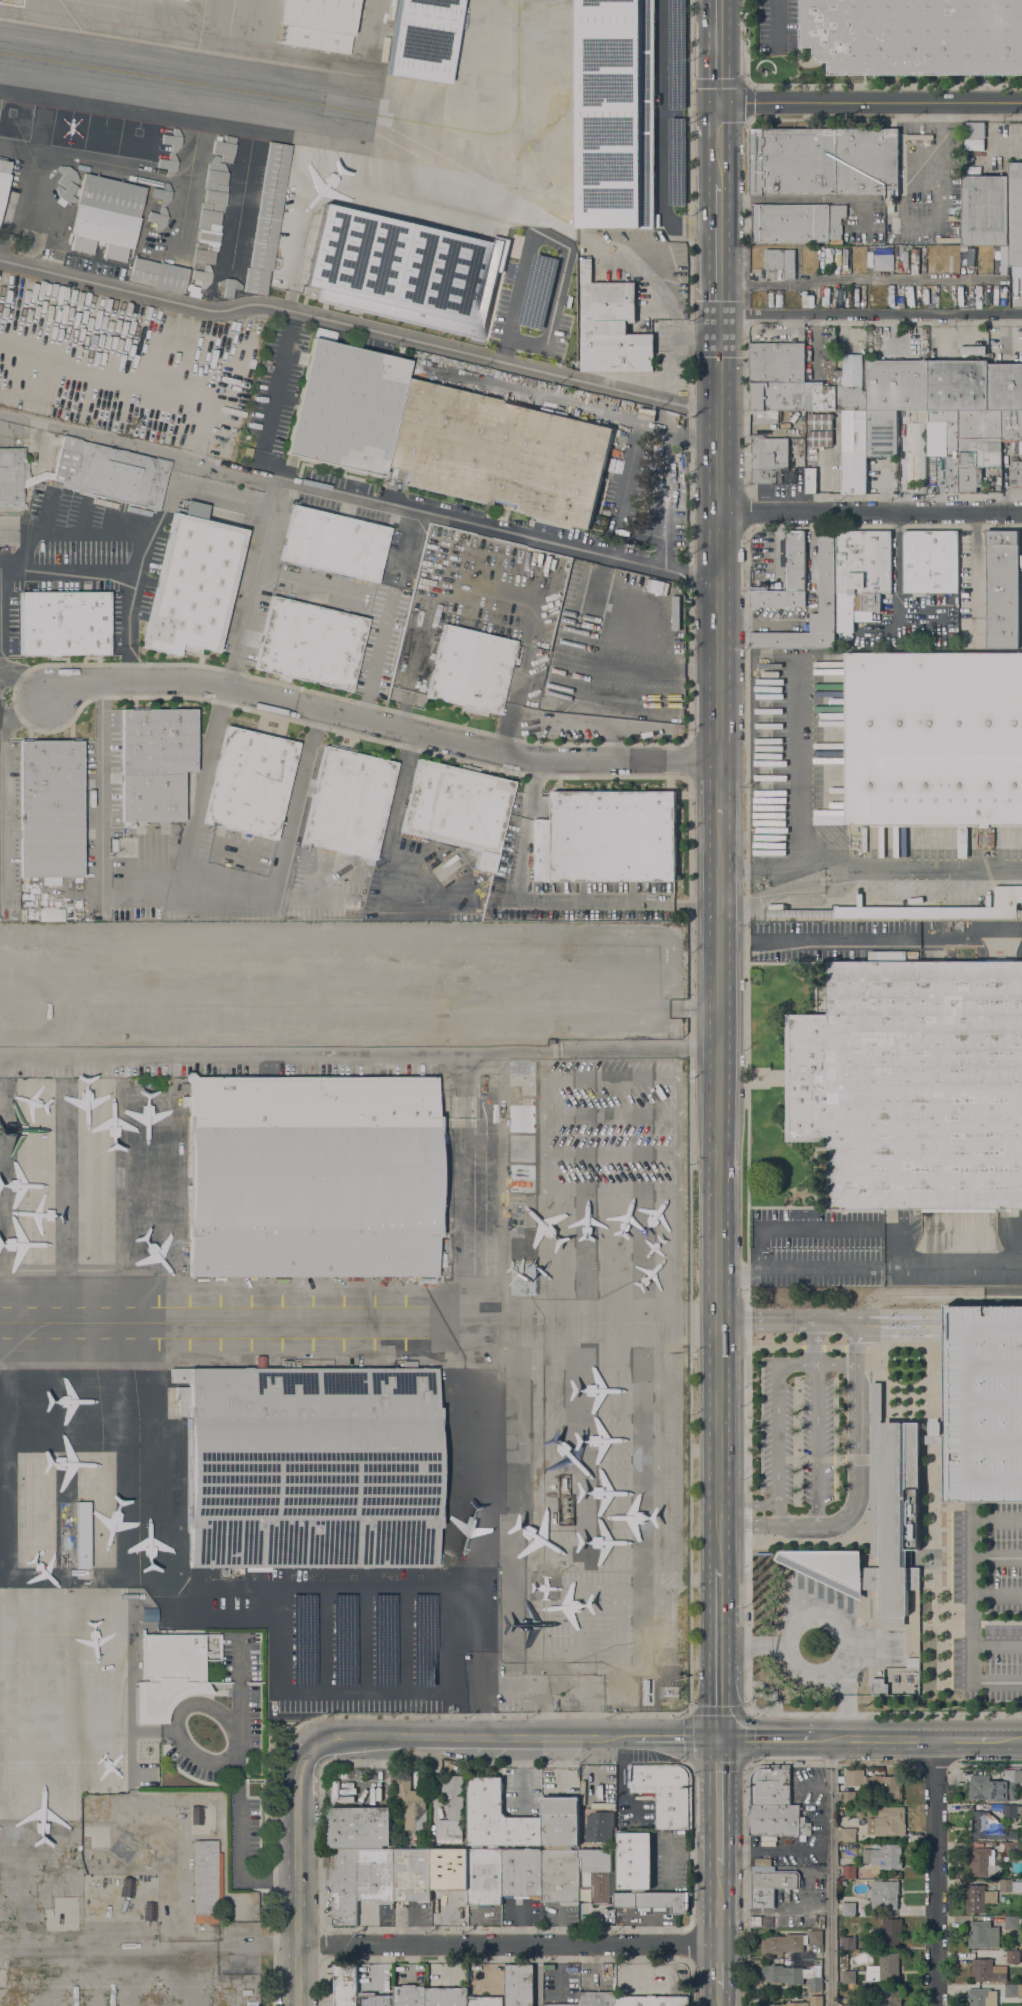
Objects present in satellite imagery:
airport hangar: (183, 0)
building: (183, 0)
airport hangar: (317, 24)
building: (317, 24)
road: (779, 26)
parking lot: (778, 27)
building: (915, 36)
airport hangar: (422, 39)
building: (422, 39)
road: (745, 42)
road: (719, 51)
building: (615, 52)
airport taxiway: (187, 82)
road: (747, 102)
traffic signals: (719, 103)
road: (870, 103)
building: (974, 130)
helipad: (65, 131)
road: (664, 136)
helipad: (100, 137)
helipad: (135, 142)
road: (719, 143)
building: (224, 149)
road: (939, 154)
building: (824, 161)
airport apron: (353, 162)
airport: (367, 163)
airport hangar: (616, 166)
building: (616, 166)
building: (3, 179)
airport hangar: (269, 206)
building: (269, 206)
building: (985, 210)
road: (746, 213)
building: (106, 217)
building: (209, 217)
building: (1015, 217)
building: (796, 222)
road: (719, 249)
building: (775, 261)
building: (884, 263)
airport hangar: (402, 273)
building: (402, 273)
building: (158, 275)
building: (202, 276)
road: (857, 278)
airport hangar: (256, 281)
building: (256, 281)
building: (227, 288)
road: (516, 304)
road: (870, 314)
road: (745, 317)
road: (359, 327)
building: (610, 327)
building: (777, 362)
building: (850, 384)
building: (897, 385)
building: (958, 385)
building: (1005, 387)
building: (778, 396)
building: (820, 396)
building: (346, 409)
road: (746, 411)
building: (767, 417)
building: (820, 421)
building: (1011, 425)
building: (882, 433)
building: (819, 438)
building: (945, 442)
building: (977, 446)
building: (854, 451)
building: (914, 452)
building: (247, 453)
building: (499, 453)
building: (768, 460)
building: (110, 472)
building: (1016, 473)
building: (12, 478)
building: (37, 478)
building: (810, 480)
road: (180, 490)
road: (359, 501)
road: (747, 512)
road: (870, 513)
road: (266, 526)
road: (719, 538)
building: (334, 543)
building: (795, 561)
building: (930, 562)
road: (124, 566)
road: (254, 574)
building: (861, 574)
building: (826, 575)
road: (975, 576)
building: (193, 583)
parking lot: (644, 583)
parking lot: (575, 585)
building: (1002, 589)
building: (778, 598)
building: (63, 623)
building: (310, 644)
parking lot: (674, 645)
road: (377, 657)
parking lot: (572, 659)
building: (470, 670)
road: (45, 697)
road: (690, 699)
parking lot: (600, 709)
road: (380, 725)
building: (933, 739)
building: (155, 762)
building: (250, 783)
road: (532, 790)
road: (719, 790)
road: (102, 797)
building: (348, 802)
road: (801, 803)
building: (51, 809)
building: (457, 809)
building: (606, 837)
building: (961, 841)
building: (123, 848)
road: (911, 867)
road: (227, 892)
road: (574, 904)
building: (919, 909)
building: (50, 915)
road: (870, 938)
building: (553, 1041)
road: (359, 1054)
airport hangar: (523, 1076)
building: (523, 1076)
building: (913, 1083)
airport hangar: (492, 1091)
building: (492, 1091)
airport hangar: (522, 1116)
building: (522, 1116)
airport hangar: (495, 1119)
building: (495, 1119)
road: (747, 1120)
airport hangar: (494, 1147)
building: (494, 1147)
airport hangar: (521, 1148)
building: (521, 1148)
airport hangar: (496, 1174)
building: (496, 1174)
airport hangar: (312, 1177)
building: (312, 1177)
airport hangar: (521, 1178)
building: (521, 1178)
road: (719, 1193)
airport hangar: (522, 1212)
building: (522, 1212)
airport hangar: (523, 1246)
building: (523, 1246)
road: (952, 1265)
road: (800, 1268)
airport hangar: (522, 1279)
building: (522, 1279)
road: (689, 1287)
road: (936, 1295)
road: (756, 1316)
road: (874, 1316)
road: (858, 1322)
road: (988, 1323)
airport taxiway: (328, 1324)
road: (787, 1327)
road: (906, 1332)
road: (813, 1340)
road: (856, 1346)
road: (811, 1347)
road: (798, 1364)
road: (835, 1364)
road: (856, 1373)
building: (982, 1403)
parking garage: (982, 1403)
road: (967, 1422)
parking lot: (796, 1434)
building: (932, 1439)
road: (922, 1440)
road: (797, 1442)
airport: (313, 1463)
road: (855, 1465)
airport hangar: (310, 1466)
building: (310, 1466)
road: (995, 1480)
road: (896, 1489)
road: (874, 1498)
road: (748, 1503)
road: (934, 1506)
road: (885, 1507)
road: (979, 1520)
building: (879, 1523)
road: (757, 1524)
road: (805, 1524)
building: (82, 1535)
road: (997, 1557)
road: (412, 1585)
road: (935, 1600)
parking lot: (987, 1603)
road: (230, 1616)
road: (983, 1621)
road: (796, 1622)
road: (275, 1631)
road: (972, 1642)
road: (752, 1644)
road: (719, 1653)
building: (912, 1662)
building: (168, 1674)
building: (879, 1687)
road: (355, 1692)
road: (689, 1711)
road: (885, 1711)
road: (176, 1725)
road: (471, 1736)
road: (677, 1737)
road: (768, 1738)
road: (875, 1738)
road: (963, 1739)
road: (1007, 1740)
road: (559, 1764)
road: (593, 1766)
building: (854, 1777)
road: (719, 1783)
road: (240, 1785)
building: (884, 1786)
building: (995, 1786)
building: (663, 1791)
building: (848, 1797)
building: (411, 1800)
building: (773, 1803)
building: (452, 1811)
building: (1012, 1811)
building: (497, 1817)
building: (560, 1821)
building: (887, 1821)
building: (599, 1826)
building: (358, 1827)
building: (990, 1827)
building: (848, 1834)
building: (875, 1844)
road: (719, 1846)
building: (1013, 1847)
building: (883, 1857)
building: (633, 1859)
building: (762, 1861)
building: (984, 1863)
building: (450, 1868)
building: (848, 1871)
building: (522, 1872)
road: (829, 1872)
road: (935, 1872)
building: (412, 1874)
building: (598, 1874)
road: (296, 1875)
building: (375, 1875)
building: (484, 1876)
building: (560, 1876)
building: (206, 1882)
building: (770, 1884)
building: (1010, 1885)
building: (344, 1887)
building: (884, 1894)
building: (978, 1898)
building: (653, 1900)
road: (718, 1904)
building: (849, 1908)
building: (761, 1921)
building: (1010, 1922)
building: (1019, 1922)
building: (891, 1926)
building: (983, 1935)
building: (815, 1937)
building: (782, 1943)
road: (507, 1944)
building: (1012, 1957)
road: (718, 1966)
building: (884, 1969)
building: (987, 1970)
building: (782, 1974)
building: (849, 1975)
building: (345, 1984)
building: (815, 1984)
building: (519, 1985)
building: (1013, 1990)
building: (410, 1995)
building: (891, 1996)
building: (447, 1997)
road: (719, 1997)
building: (982, 1997)
building: (374, 1999)
building: (597, 1999)
building: (815, 2000)
building: (485, 2001)
building: (652, 2001)
building: (790, 2004)
building: (874, 2004)
building: (561, 2005)
building: (848, 2005)

